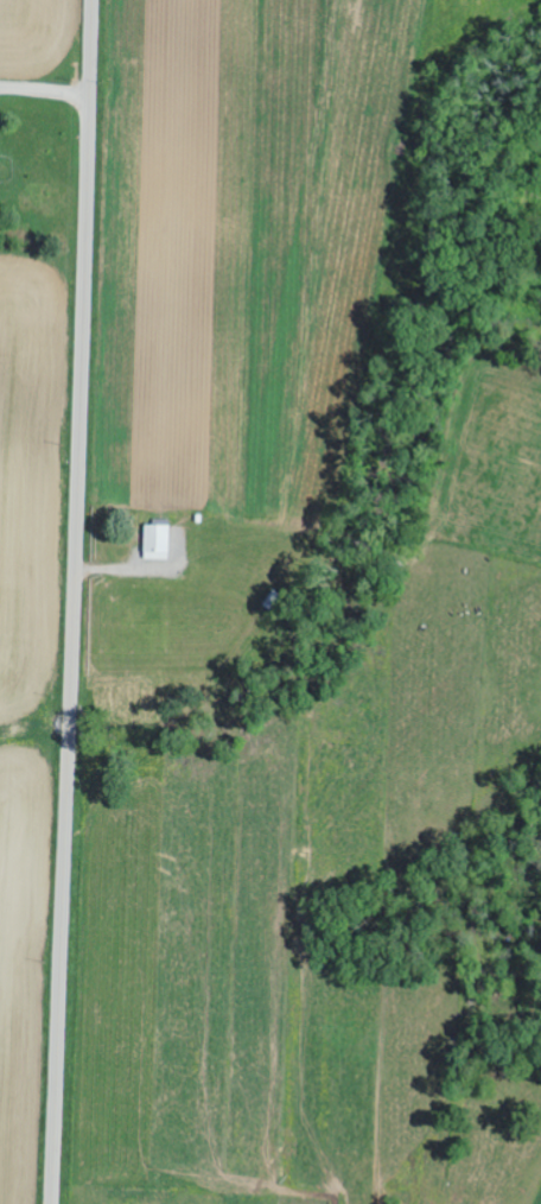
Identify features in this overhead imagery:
building: (155, 544)
road: (71, 602)

